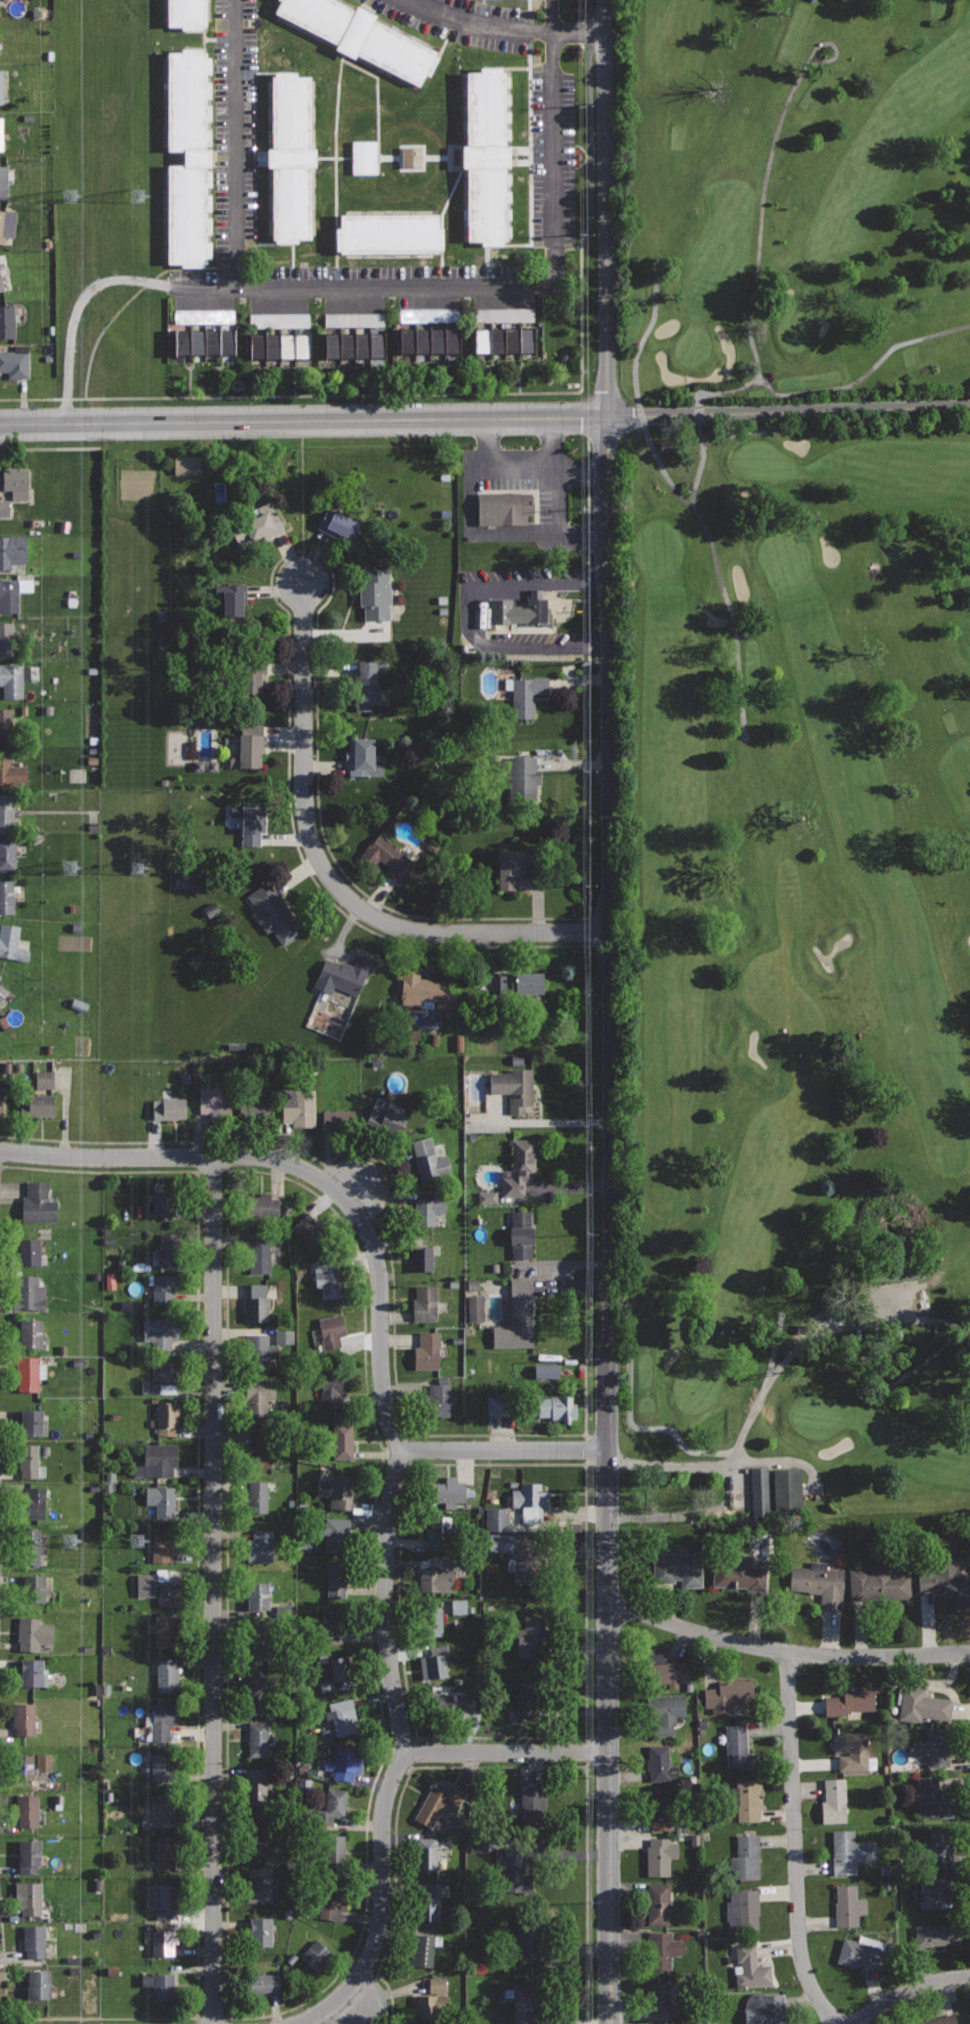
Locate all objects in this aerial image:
building: (188, 13)
building: (315, 15)
parking lot: (464, 21)
road: (503, 28)
building: (400, 55)
building: (1, 86)
building: (187, 99)
building: (484, 107)
building: (291, 111)
road: (590, 122)
parking lot: (236, 129)
building: (1, 133)
road: (236, 143)
building: (362, 157)
building: (410, 157)
parking lot: (552, 160)
building: (5, 183)
power tower: (133, 195)
power tower: (70, 196)
building: (292, 202)
building: (486, 205)
building: (187, 215)
building: (7, 222)
building: (392, 233)
building: (2, 280)
road: (386, 287)
building: (0, 290)
road: (131, 301)
building: (426, 315)
building: (502, 315)
building: (203, 316)
building: (352, 319)
building: (7, 320)
building: (278, 320)
road: (748, 329)
building: (482, 339)
building: (497, 339)
building: (512, 339)
building: (527, 339)
building: (408, 340)
building: (423, 340)
building: (438, 340)
building: (453, 340)
building: (183, 341)
building: (198, 342)
building: (213, 342)
building: (227, 342)
building: (333, 344)
building: (348, 344)
building: (362, 344)
building: (377, 344)
building: (257, 345)
building: (272, 345)
building: (287, 345)
building: (302, 345)
building: (14, 362)
road: (366, 395)
road: (789, 411)
road: (701, 418)
road: (304, 420)
road: (764, 431)
road: (49, 449)
building: (188, 465)
building: (14, 478)
road: (685, 495)
building: (504, 507)
building: (3, 508)
building: (259, 523)
building: (337, 525)
building: (11, 547)
building: (376, 594)
building: (9, 597)
building: (234, 598)
building: (521, 609)
road: (465, 616)
building: (12, 643)
building: (247, 675)
building: (14, 679)
building: (369, 679)
building: (526, 694)
building: (6, 724)
building: (250, 745)
park: (788, 752)
building: (362, 763)
building: (11, 771)
building: (523, 776)
building: (7, 813)
building: (253, 823)
building: (8, 853)
building: (389, 857)
building: (516, 865)
power tower: (69, 867)
power tower: (133, 868)
road: (329, 874)
building: (6, 896)
building: (274, 913)
road: (377, 934)
building: (11, 942)
building: (344, 974)
building: (0, 975)
building: (496, 983)
building: (521, 983)
building: (425, 990)
building: (2, 991)
road: (610, 1011)
building: (458, 1043)
building: (42, 1079)
building: (514, 1087)
building: (2, 1101)
building: (216, 1101)
building: (36, 1104)
building: (298, 1107)
building: (169, 1108)
building: (255, 1110)
building: (338, 1120)
building: (385, 1122)
building: (429, 1160)
building: (519, 1166)
road: (310, 1192)
road: (358, 1192)
building: (485, 1197)
building: (38, 1203)
building: (164, 1203)
building: (263, 1205)
building: (428, 1211)
building: (311, 1231)
building: (521, 1234)
road: (372, 1247)
building: (170, 1248)
building: (29, 1251)
building: (260, 1251)
building: (422, 1258)
building: (891, 1275)
building: (330, 1278)
building: (109, 1281)
building: (164, 1286)
building: (31, 1293)
building: (256, 1301)
building: (426, 1303)
building: (473, 1307)
parking lot: (870, 1307)
building: (515, 1316)
road: (945, 1321)
building: (332, 1330)
building: (161, 1331)
building: (32, 1332)
road: (774, 1349)
building: (260, 1350)
building: (427, 1350)
building: (544, 1371)
building: (28, 1373)
building: (163, 1378)
building: (333, 1387)
building: (257, 1393)
building: (439, 1399)
building: (493, 1405)
building: (554, 1407)
building: (167, 1418)
building: (32, 1422)
building: (343, 1440)
building: (260, 1448)
road: (694, 1449)
building: (158, 1460)
road: (785, 1460)
building: (28, 1461)
road: (677, 1464)
road: (414, 1465)
road: (737, 1486)
building: (757, 1488)
building: (784, 1488)
building: (337, 1490)
building: (450, 1490)
building: (529, 1495)
building: (256, 1498)
building: (162, 1500)
building: (36, 1504)
building: (494, 1519)
building: (334, 1532)
building: (441, 1533)
power tower: (69, 1541)
power tower: (132, 1541)
building: (166, 1543)
building: (498, 1543)
building: (31, 1546)
building: (260, 1546)
building: (523, 1564)
building: (677, 1567)
building: (741, 1576)
building: (336, 1579)
building: (436, 1579)
building: (818, 1582)
building: (948, 1582)
building: (878, 1584)
building: (159, 1587)
building: (33, 1589)
road: (214, 1590)
building: (258, 1595)
road: (386, 1600)
building: (457, 1606)
building: (432, 1621)
building: (332, 1624)
building: (164, 1630)
building: (34, 1633)
building: (532, 1637)
road: (196, 1645)
building: (261, 1647)
building: (252, 1649)
road: (788, 1650)
building: (434, 1666)
building: (663, 1667)
building: (33, 1672)
building: (335, 1673)
building: (167, 1675)
building: (259, 1691)
building: (727, 1694)
building: (849, 1700)
building: (526, 1701)
building: (453, 1702)
building: (922, 1705)
building: (667, 1712)
building: (342, 1716)
building: (24, 1718)
building: (163, 1720)
building: (258, 1738)
building: (935, 1746)
building: (738, 1747)
building: (852, 1751)
building: (42, 1762)
building: (344, 1763)
building: (660, 1764)
road: (493, 1766)
building: (22, 1767)
building: (163, 1767)
building: (258, 1784)
building: (932, 1798)
building: (747, 1800)
building: (835, 1800)
road: (385, 1804)
building: (440, 1804)
building: (331, 1806)
building: (660, 1808)
building: (26, 1810)
building: (160, 1810)
building: (531, 1811)
building: (255, 1837)
road: (795, 1842)
building: (477, 1844)
building: (941, 1845)
building: (848, 1851)
building: (167, 1853)
building: (426, 1853)
building: (333, 1854)
building: (29, 1855)
building: (661, 1855)
building: (746, 1856)
building: (516, 1871)
building: (260, 1885)
building: (933, 1890)
building: (29, 1898)
building: (164, 1899)
building: (334, 1899)
building: (427, 1901)
building: (658, 1903)
building: (847, 1904)
building: (743, 1909)
building: (261, 1931)
building: (530, 1934)
building: (937, 1934)
building: (33, 1941)
building: (164, 1941)
building: (423, 1948)
building: (662, 1948)
building: (862, 1952)
building: (316, 1955)
building: (750, 1966)
building: (160, 1984)
building: (265, 1984)
building: (39, 1985)
road: (908, 1991)
building: (658, 2000)
road: (350, 2001)
building: (527, 2001)
building: (431, 2007)
building: (765, 2009)
building: (969, 2018)
building: (940, 2019)

